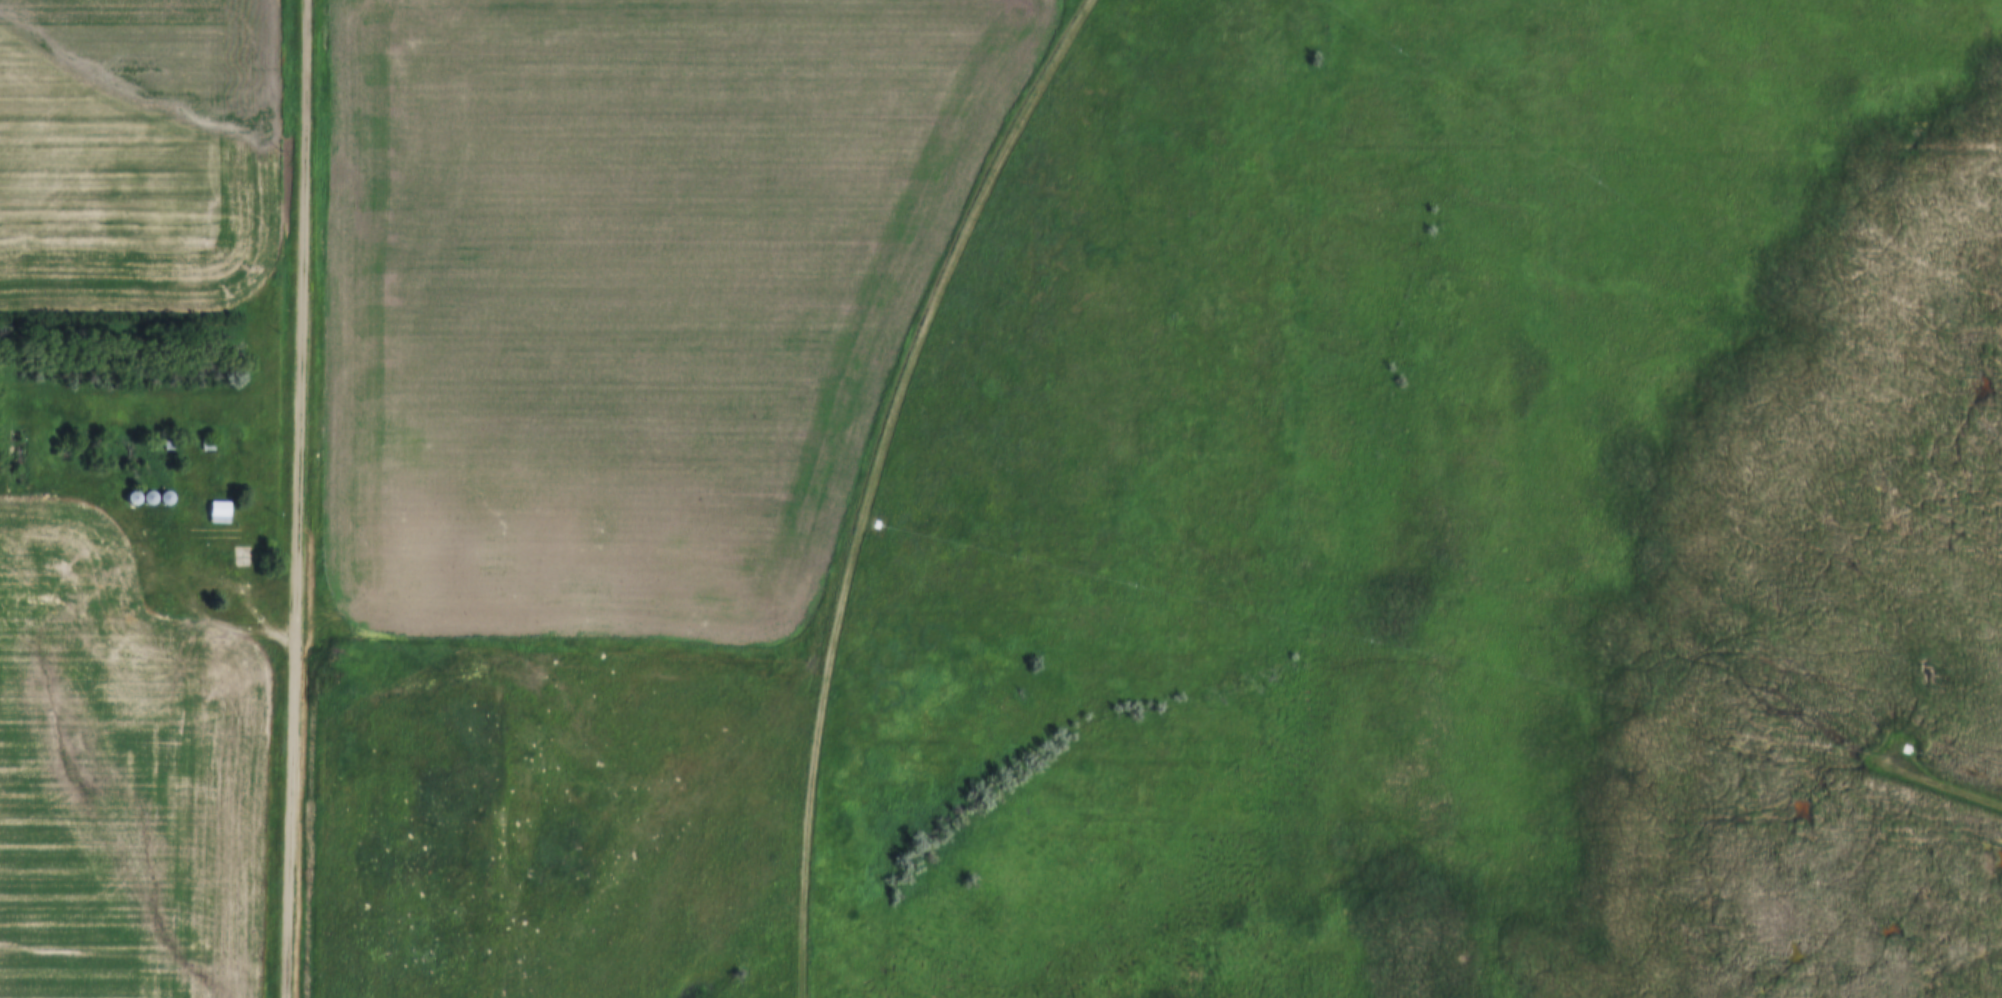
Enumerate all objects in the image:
building: (210, 442)
building: (172, 444)
road: (881, 478)
building: (134, 497)
silo: (134, 497)
building: (151, 497)
silo: (151, 497)
building: (168, 497)
silo: (168, 497)
building: (162, 499)
road: (300, 499)
building: (146, 502)
building: (221, 512)
road: (183, 597)
road: (1937, 786)

